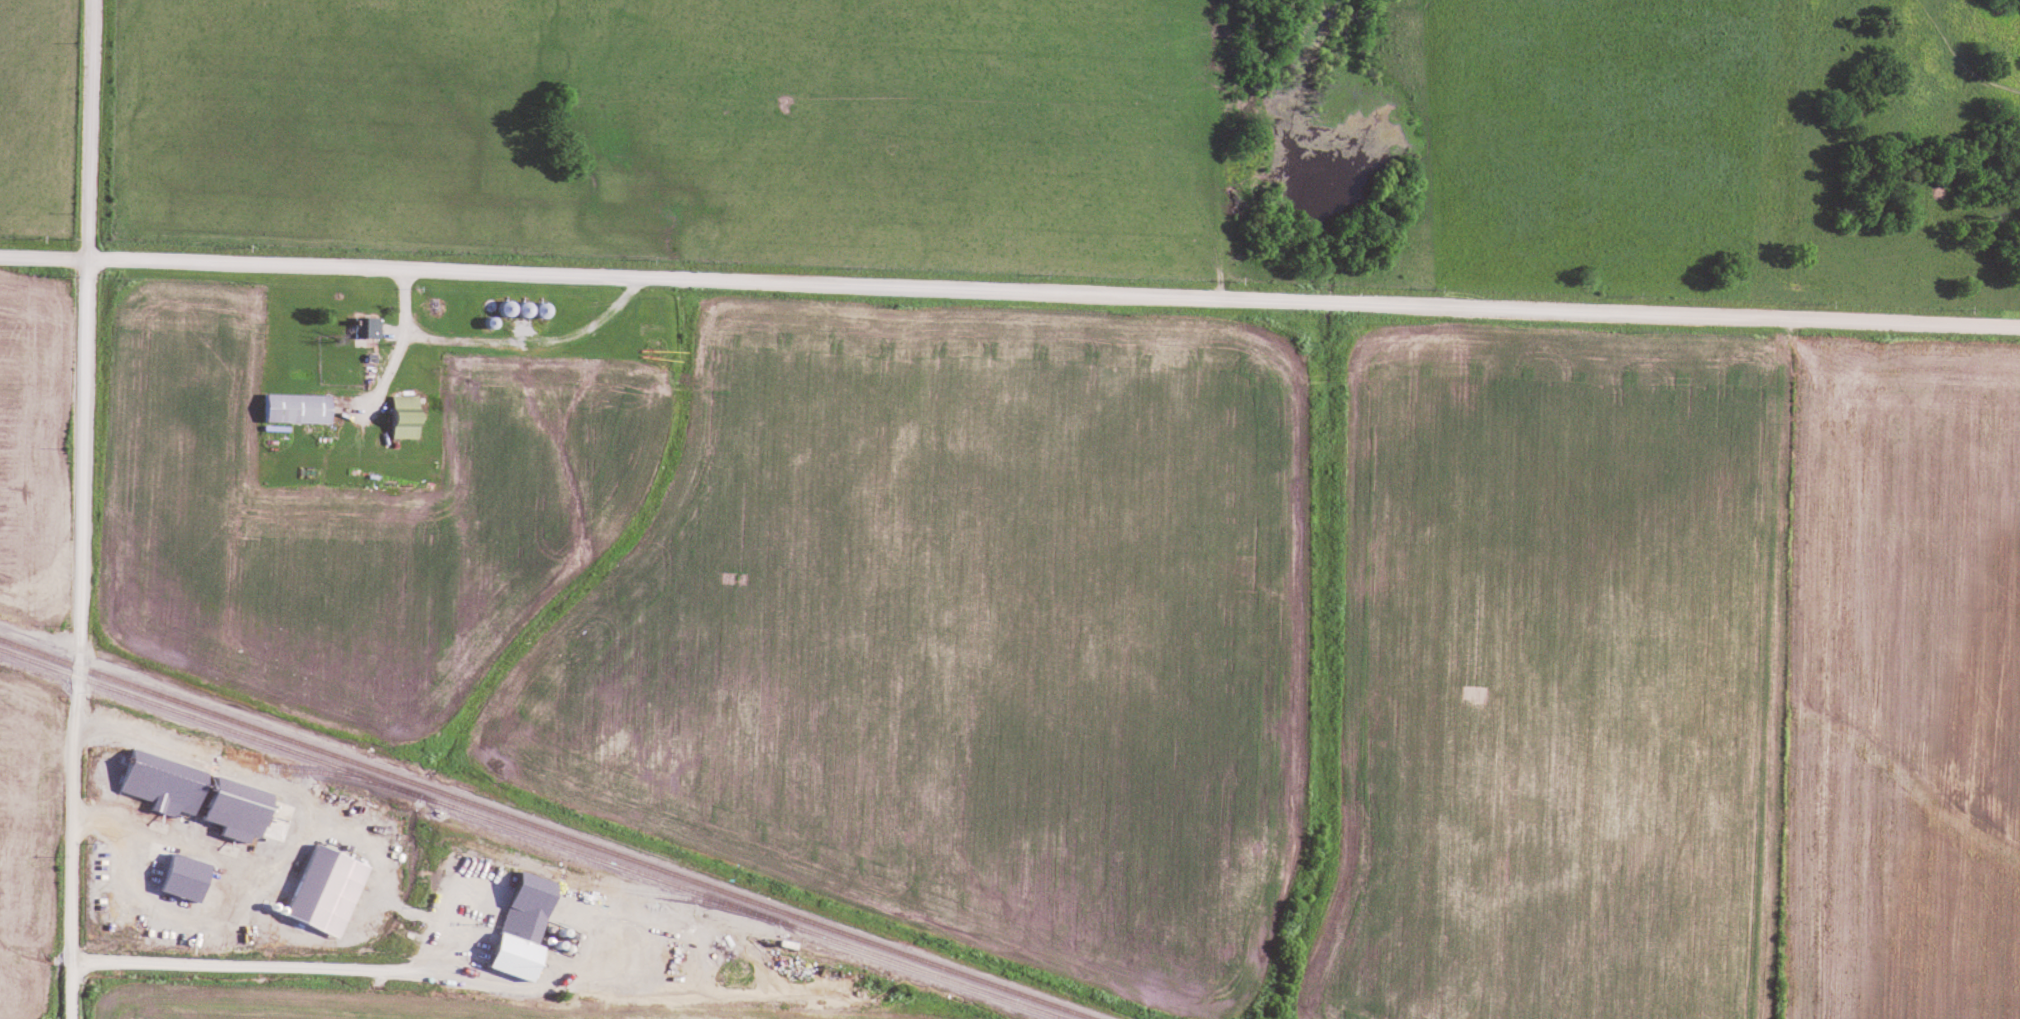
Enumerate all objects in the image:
road: (1010, 291)
building: (366, 325)
road: (395, 354)
building: (297, 406)
building: (404, 415)
road: (82, 509)
building: (161, 780)
road: (214, 796)
building: (235, 806)
railway: (545, 829)
railway: (530, 834)
building: (183, 874)
building: (325, 887)
building: (522, 924)
road: (456, 973)

